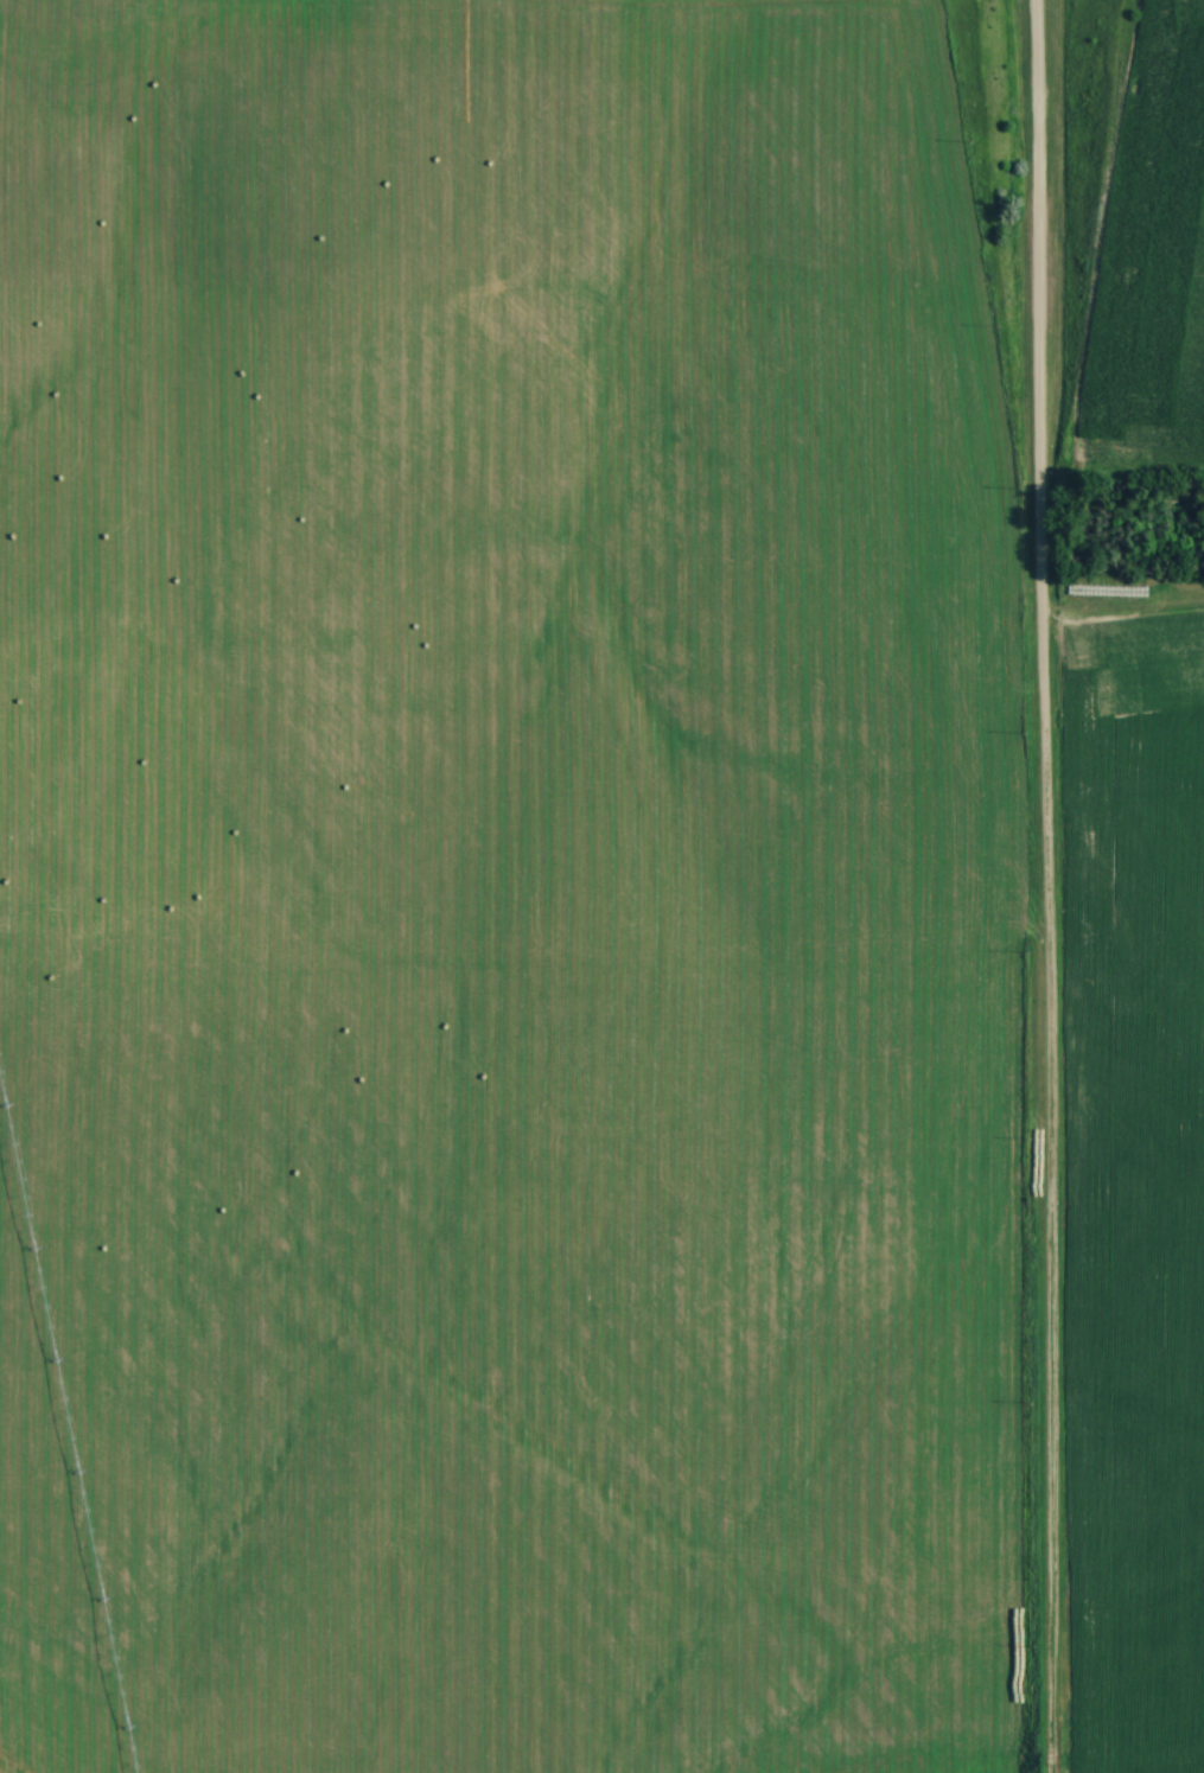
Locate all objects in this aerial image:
road: (1039, 886)

